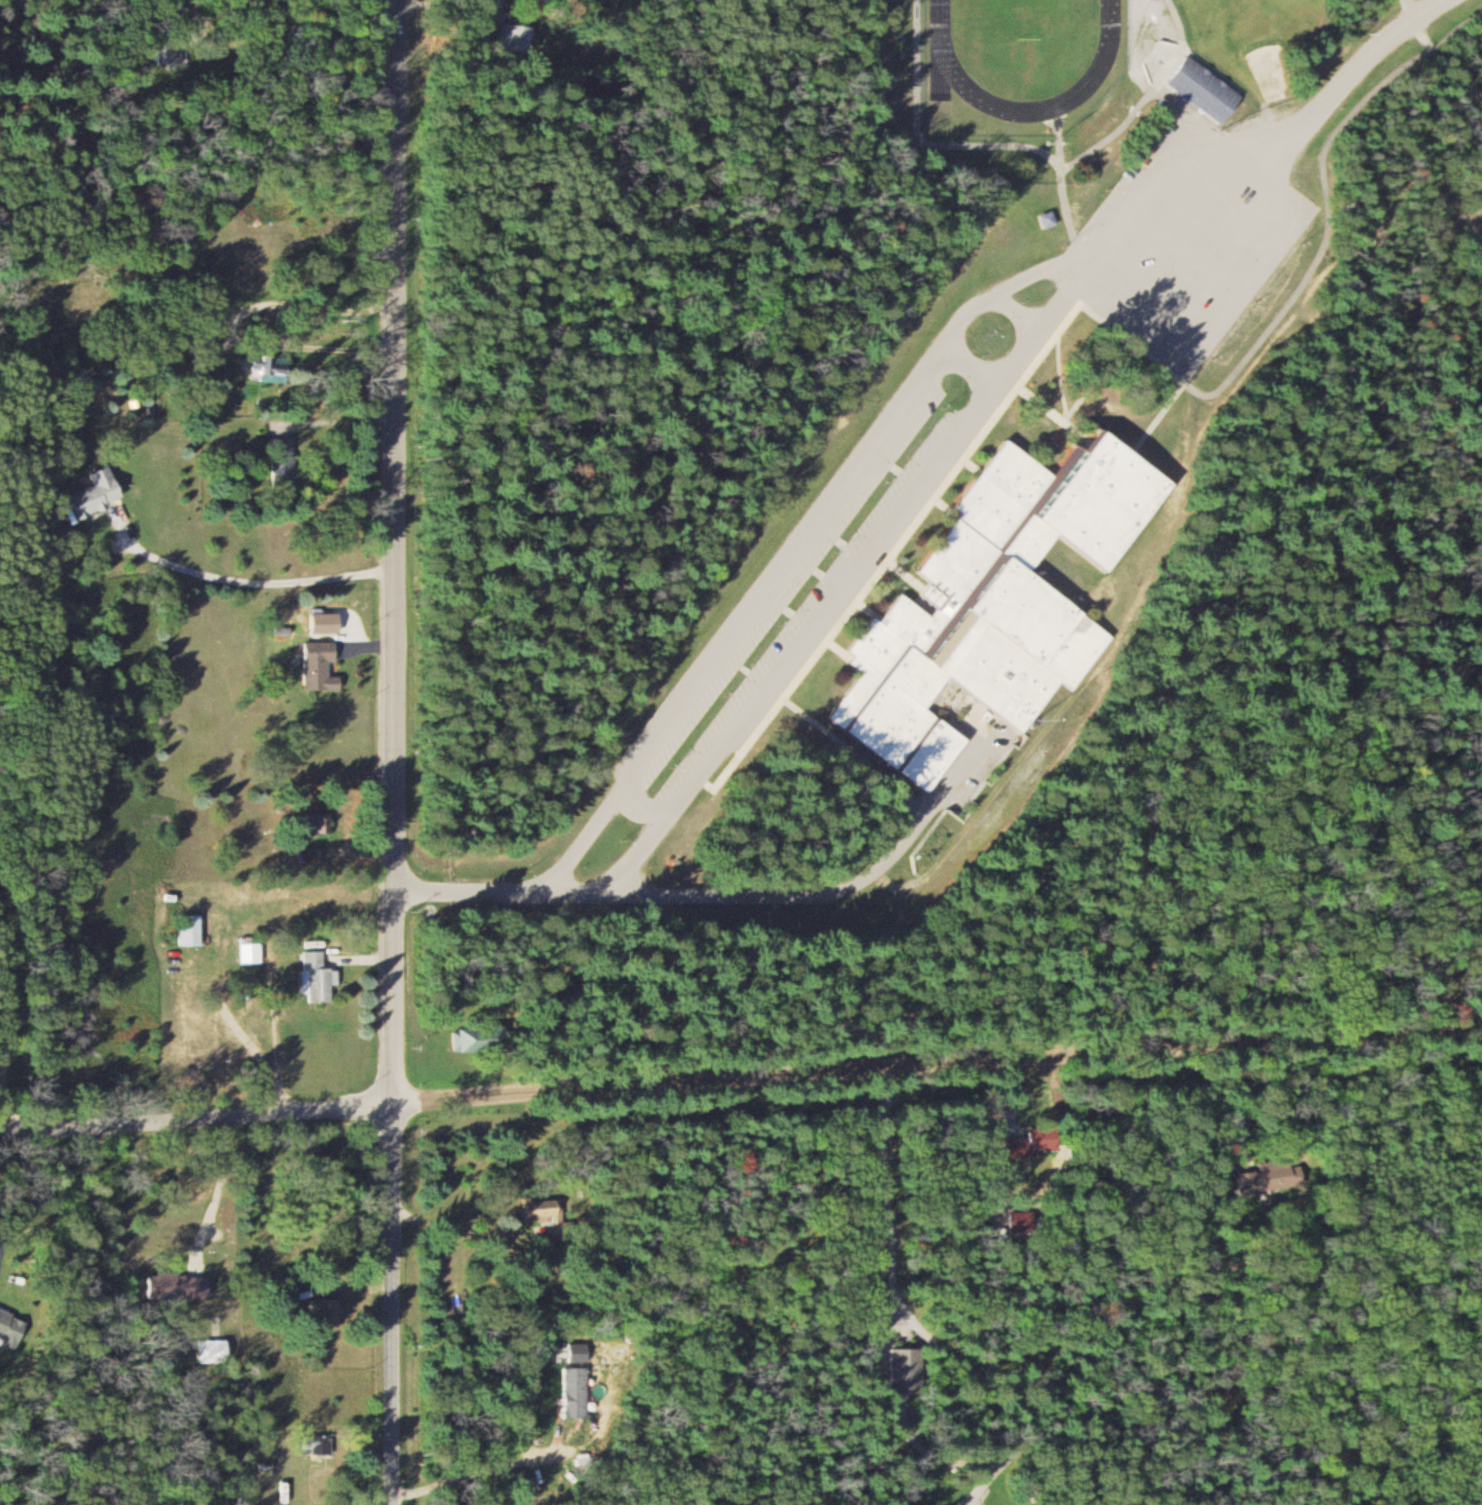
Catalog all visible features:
park: (1023, 18)
building: (520, 35)
building: (174, 53)
track: (944, 59)
building: (1194, 90)
road: (1203, 138)
building: (1042, 219)
road: (966, 316)
building: (281, 372)
building: (285, 464)
building: (100, 494)
building: (990, 601)
road: (132, 658)
building: (322, 666)
road: (391, 752)
building: (315, 823)
building: (312, 854)
road: (470, 888)
building: (192, 929)
building: (252, 949)
building: (318, 977)
road: (936, 1056)
road: (195, 1115)
building: (1027, 1145)
building: (1241, 1162)
building: (1279, 1169)
building: (1252, 1181)
road: (894, 1198)
building: (542, 1207)
building: (185, 1285)
building: (322, 1308)
building: (6, 1324)
building: (214, 1350)
building: (579, 1351)
building: (911, 1368)
building: (577, 1392)

